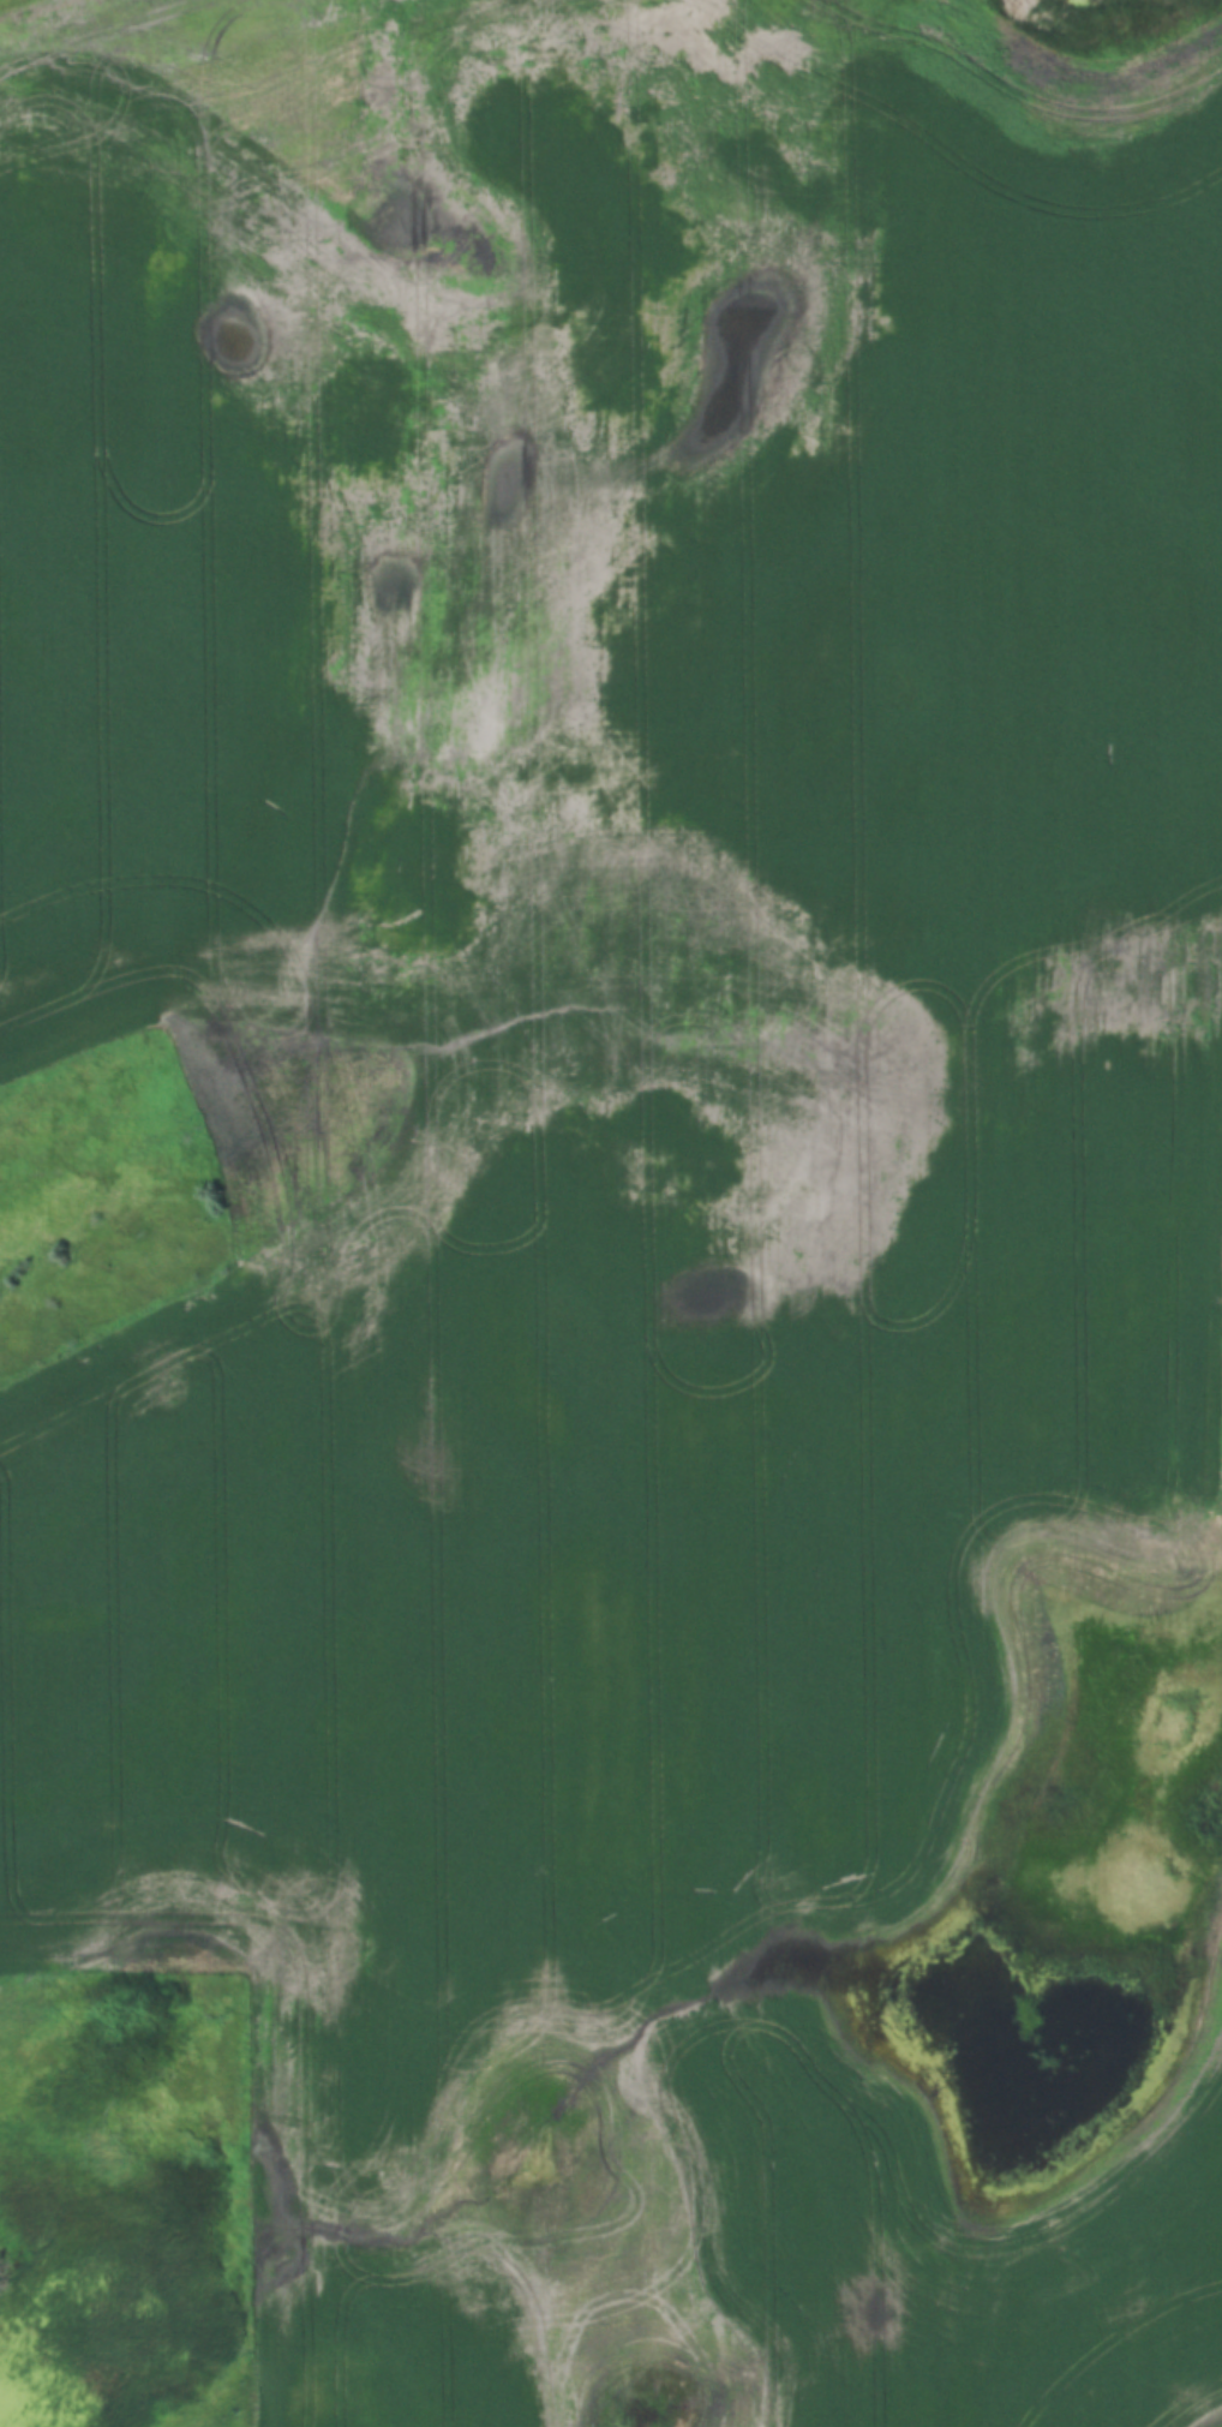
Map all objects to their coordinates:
road: (520, 1213)

